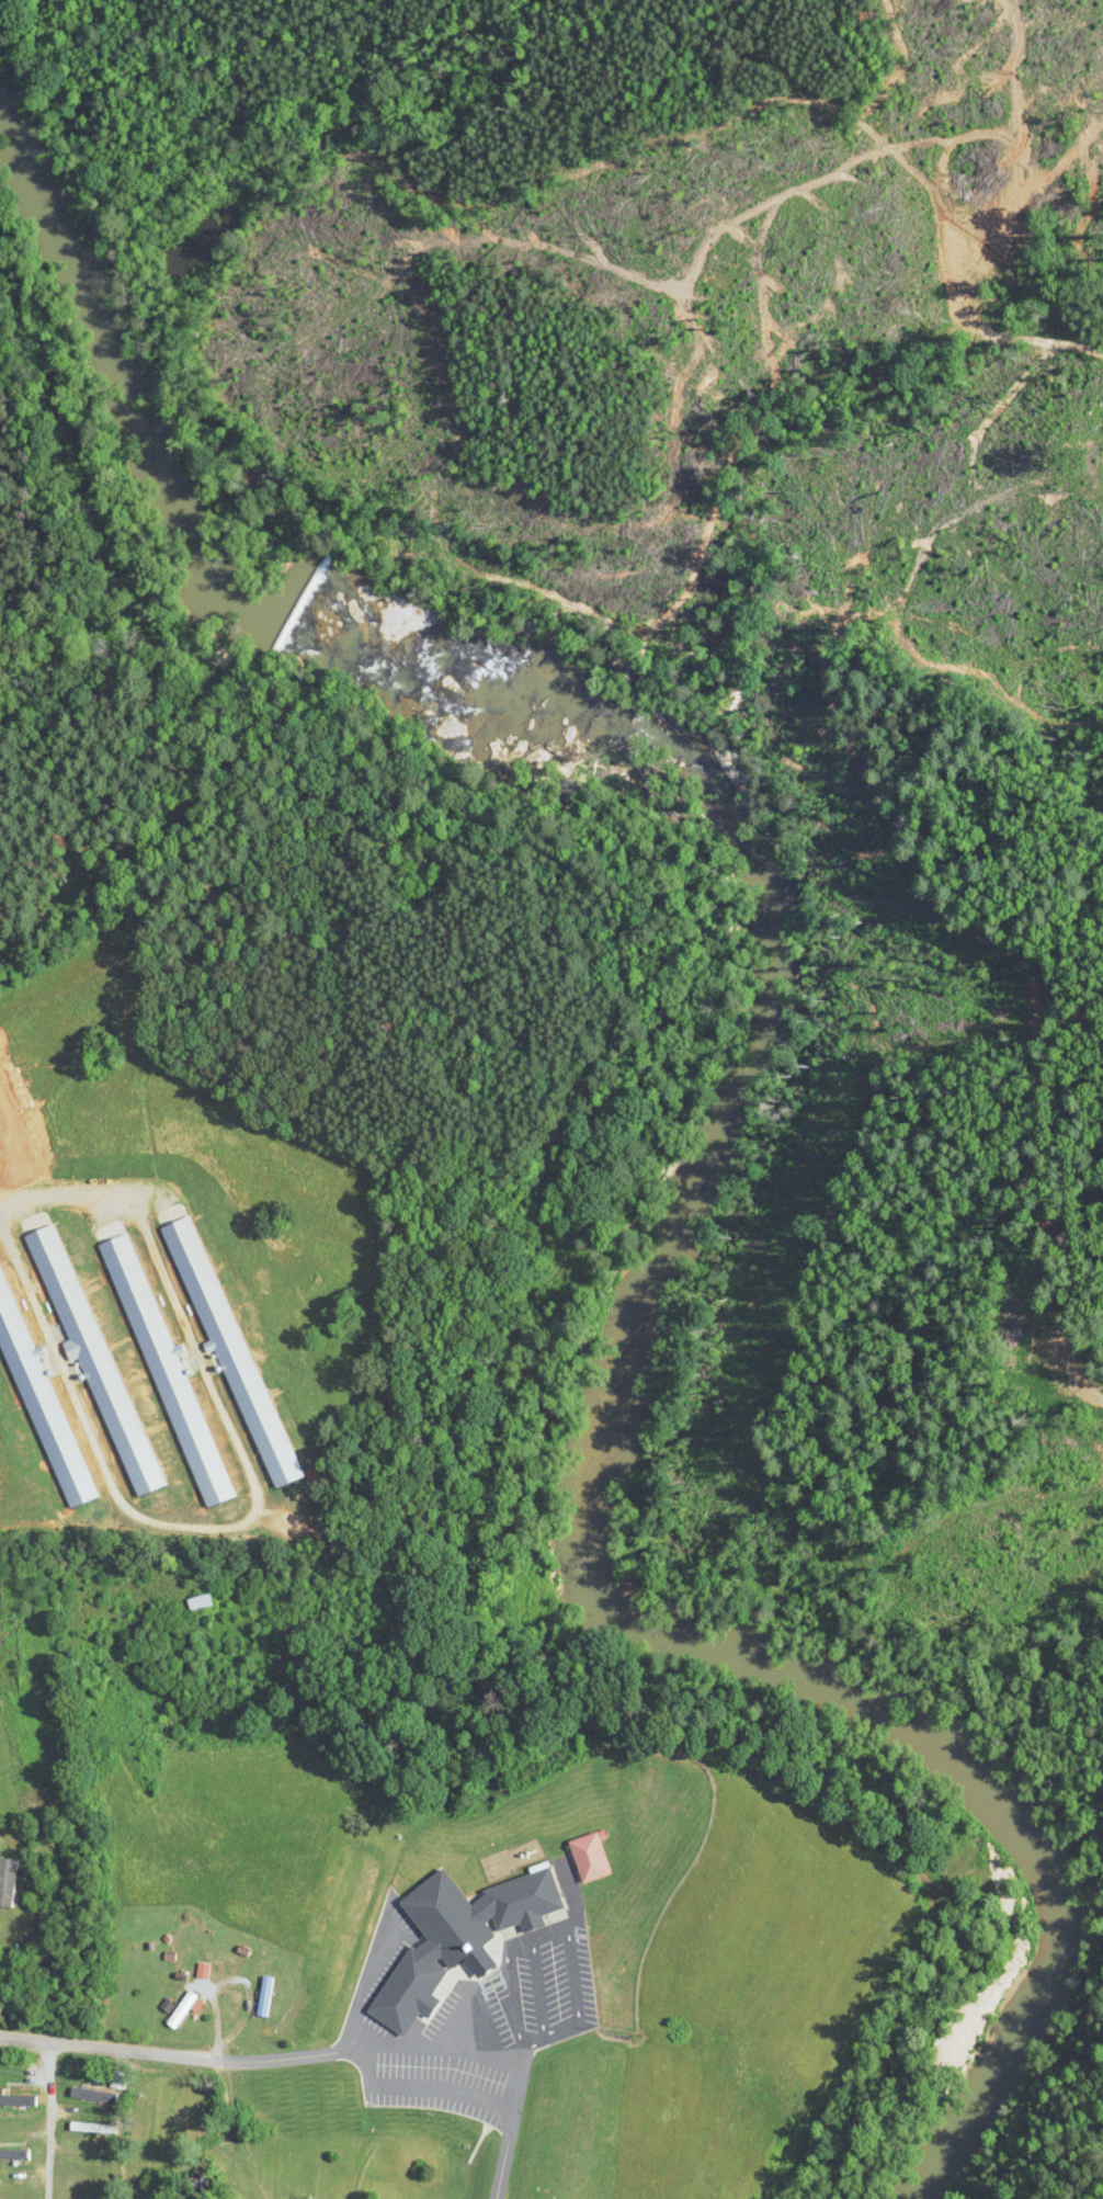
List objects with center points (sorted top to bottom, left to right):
river: (127, 389)
dam: (302, 603)
river: (480, 675)
road: (64, 1200)
river: (640, 1303)
building: (196, 1602)
building: (0, 1636)
building: (515, 1858)
building: (588, 1858)
building: (5, 1881)
building: (522, 1901)
river: (1060, 1950)
building: (13, 1979)
building: (263, 1997)
building: (179, 2010)
road: (431, 2047)
road: (106, 2048)
road: (424, 2088)
building: (88, 2095)
building: (12, 2112)
road: (50, 2120)
building: (84, 2127)
building: (11, 2154)
building: (84, 2162)
building: (195, 2186)

